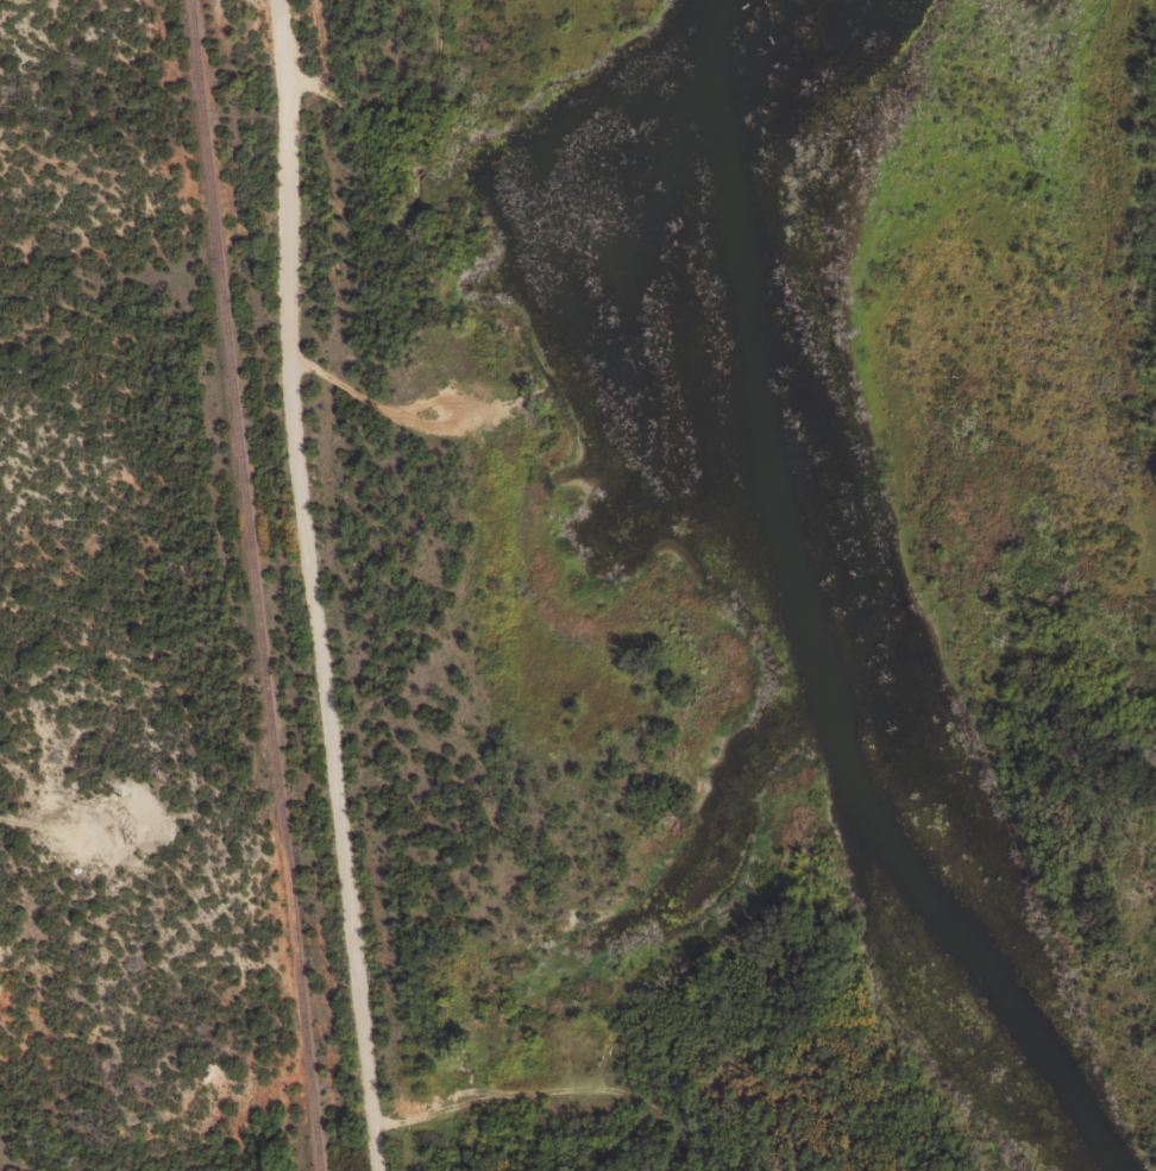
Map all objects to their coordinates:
road: (414, 137)
railway: (252, 585)
road: (301, 586)
road: (527, 1140)

